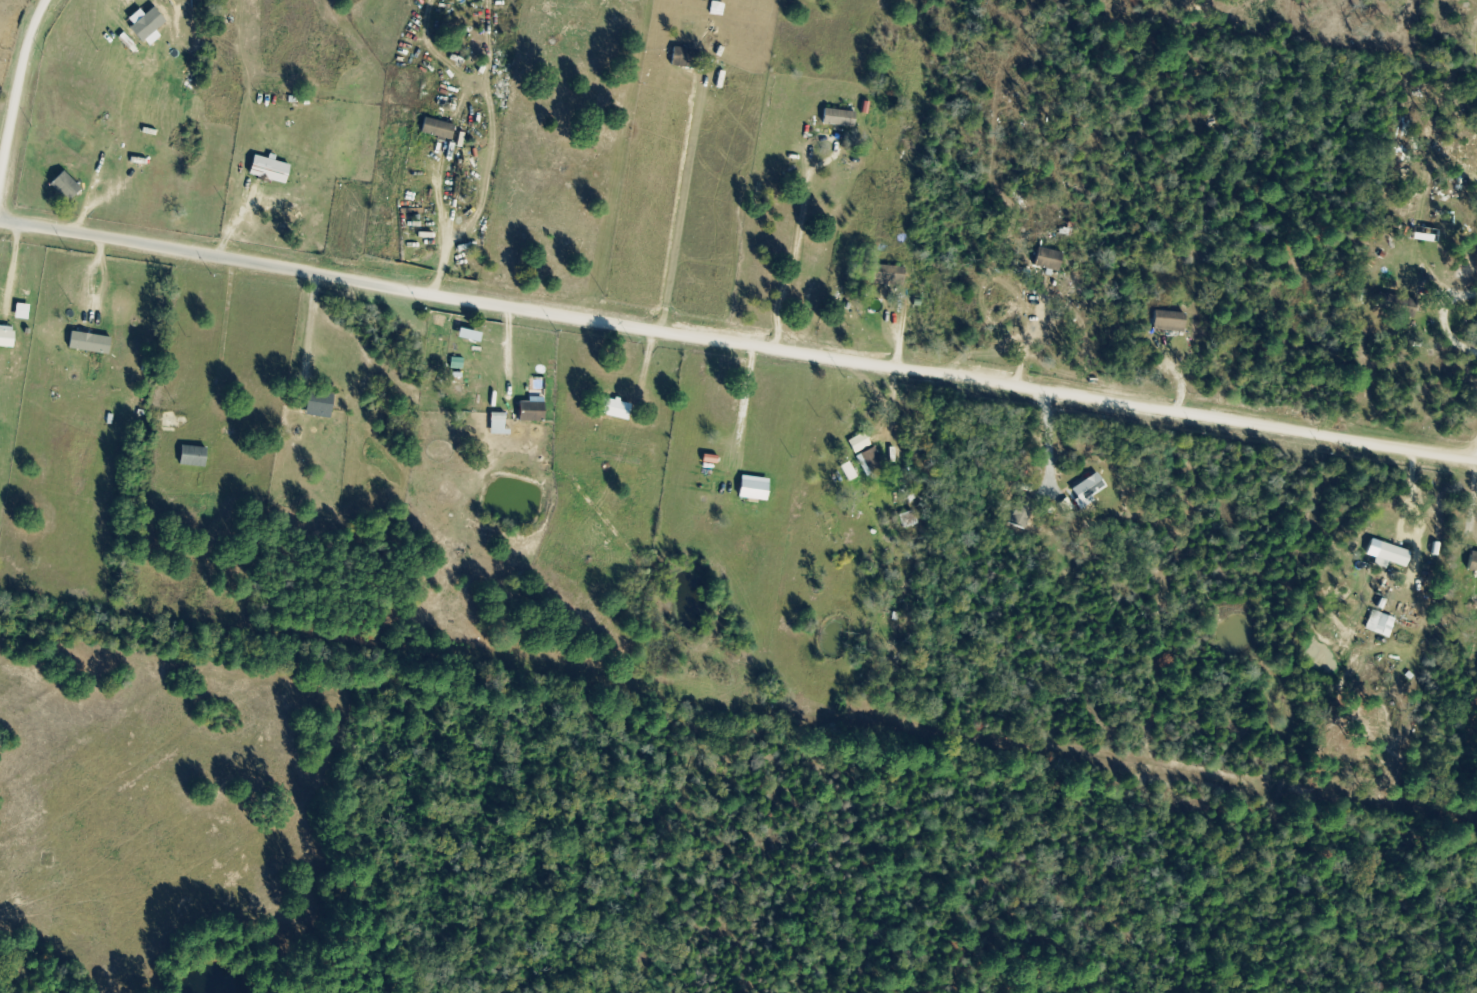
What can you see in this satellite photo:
building: (148, 30)
building: (0, 41)
building: (683, 58)
road: (17, 87)
building: (837, 118)
building: (436, 128)
building: (1430, 142)
building: (268, 170)
building: (69, 187)
building: (1045, 259)
building: (885, 275)
building: (25, 313)
building: (1167, 321)
building: (9, 338)
road: (738, 342)
building: (93, 344)
building: (317, 403)
building: (612, 408)
building: (529, 412)
building: (858, 442)
building: (186, 445)
building: (869, 461)
building: (1087, 488)
building: (751, 489)
building: (1021, 511)
building: (907, 519)
building: (1391, 554)
building: (1472, 562)

